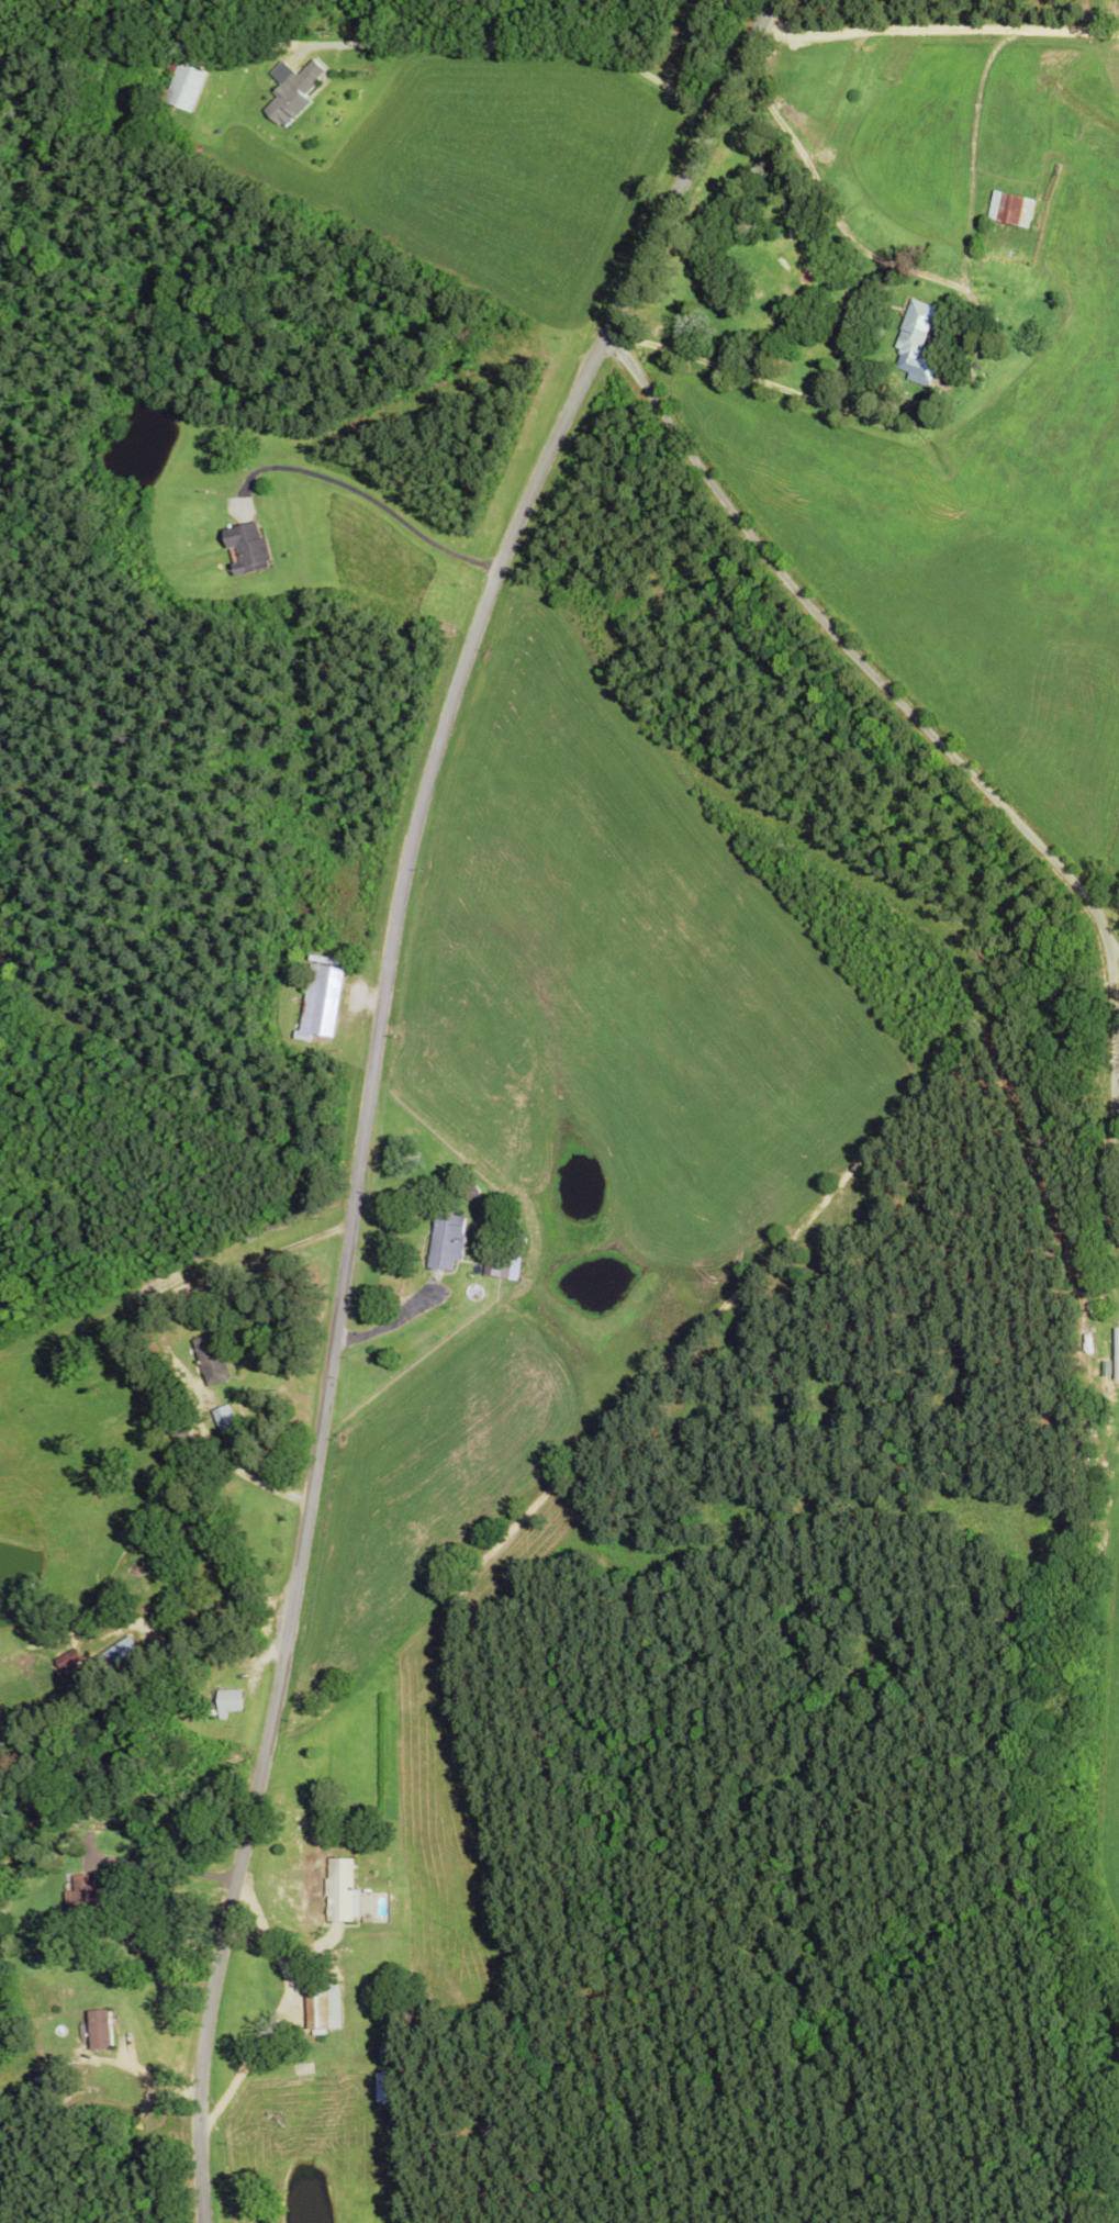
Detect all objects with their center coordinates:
road: (938, 31)
building: (186, 89)
building: (294, 96)
building: (1011, 213)
building: (918, 346)
road: (368, 496)
building: (249, 551)
road: (941, 747)
building: (324, 1003)
road: (368, 1079)
building: (450, 1244)
building: (504, 1270)
building: (216, 1362)
building: (227, 1422)
building: (71, 1662)
road: (189, 1667)
building: (232, 1705)
building: (343, 1895)
building: (83, 1897)
building: (378, 1910)
building: (325, 2011)
building: (390, 2057)

